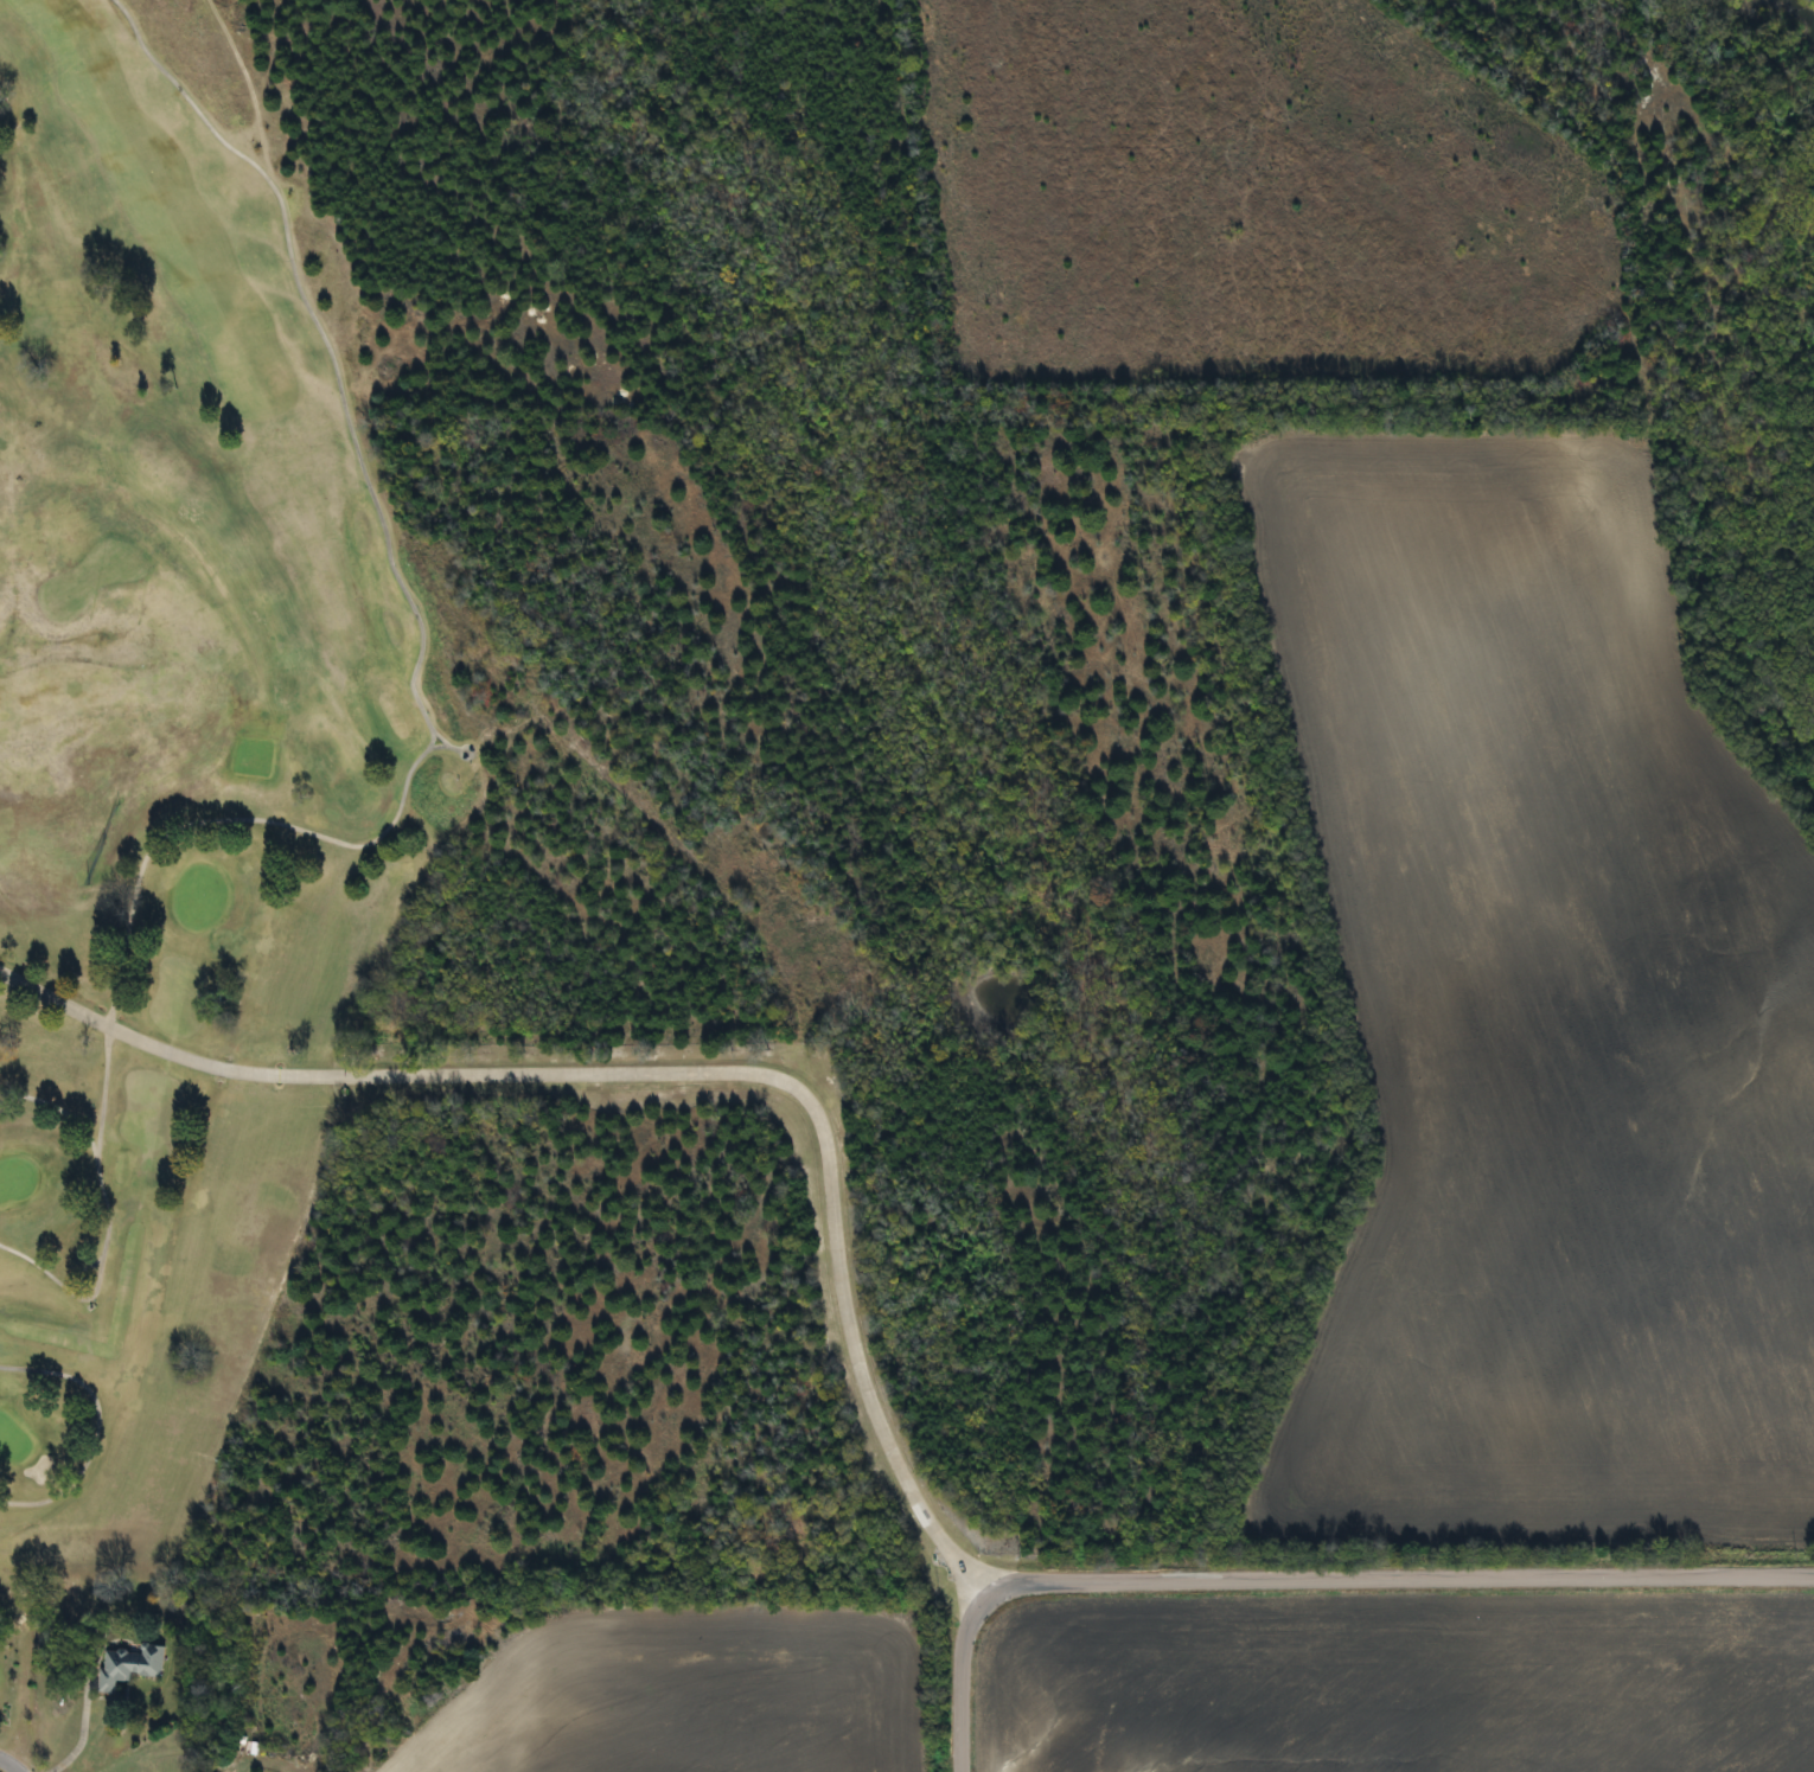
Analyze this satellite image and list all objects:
road: (665, 1073)
road: (1305, 1580)
building: (124, 1665)
road: (81, 1735)
road: (9, 1763)

